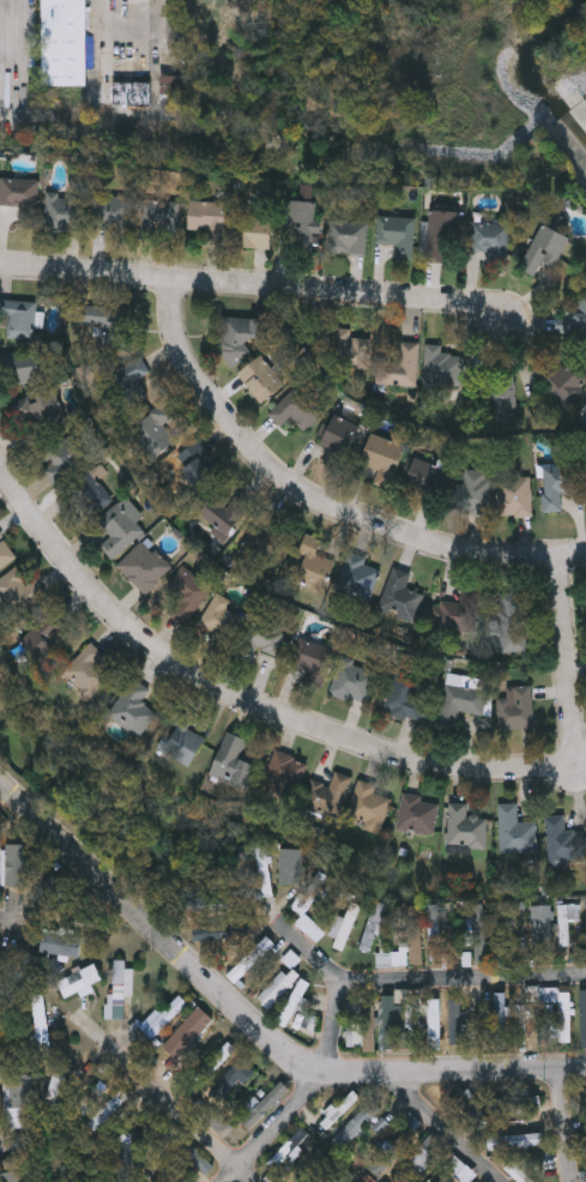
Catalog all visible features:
road: (163, 35)
building: (65, 42)
building: (127, 56)
building: (171, 84)
building: (18, 192)
building: (62, 210)
building: (111, 212)
building: (157, 218)
building: (206, 218)
building: (297, 224)
building: (250, 229)
building: (395, 233)
building: (442, 235)
building: (345, 236)
building: (489, 236)
building: (544, 248)
road: (256, 288)
building: (18, 318)
building: (572, 319)
building: (101, 322)
building: (240, 334)
building: (348, 349)
building: (398, 366)
building: (441, 366)
building: (22, 367)
building: (260, 378)
building: (128, 379)
building: (562, 379)
building: (295, 408)
building: (40, 410)
building: (157, 423)
building: (339, 439)
building: (62, 457)
building: (382, 458)
building: (189, 464)
building: (425, 480)
building: (556, 484)
building: (473, 490)
building: (86, 494)
road: (318, 501)
building: (220, 513)
building: (116, 529)
building: (258, 533)
building: (143, 566)
building: (313, 566)
building: (356, 578)
building: (18, 591)
building: (185, 593)
building: (399, 596)
building: (459, 611)
building: (219, 619)
building: (509, 620)
building: (42, 633)
building: (258, 638)
building: (312, 662)
building: (85, 670)
building: (352, 680)
building: (406, 694)
building: (459, 702)
building: (514, 707)
building: (132, 708)
road: (332, 732)
building: (180, 738)
building: (232, 761)
building: (284, 776)
building: (327, 795)
building: (367, 804)
building: (416, 814)
building: (465, 827)
building: (514, 831)
building: (564, 842)
building: (19, 866)
building: (292, 867)
building: (50, 894)
building: (349, 918)
road: (4, 919)
building: (377, 919)
building: (567, 922)
building: (310, 928)
building: (546, 929)
building: (215, 934)
building: (437, 934)
building: (479, 934)
building: (409, 942)
building: (61, 945)
building: (250, 959)
building: (79, 981)
road: (412, 982)
building: (119, 987)
building: (277, 987)
building: (294, 1002)
building: (352, 1009)
building: (162, 1017)
road: (254, 1017)
building: (561, 1018)
building: (500, 1019)
building: (582, 1019)
building: (458, 1021)
building: (431, 1024)
building: (521, 1024)
building: (393, 1027)
building: (188, 1032)
building: (362, 1032)
building: (232, 1079)
building: (19, 1091)
building: (53, 1091)
road: (306, 1094)
road: (170, 1098)
building: (90, 1100)
building: (266, 1105)
building: (338, 1110)
road: (564, 1122)
building: (357, 1123)
building: (409, 1123)
road: (446, 1127)
building: (539, 1138)
building: (177, 1139)
building: (585, 1139)
road: (23, 1141)
building: (129, 1148)
building: (418, 1159)
building: (549, 1168)
building: (515, 1170)
building: (452, 1172)
building: (307, 1174)
building: (11, 1175)
building: (345, 1176)

